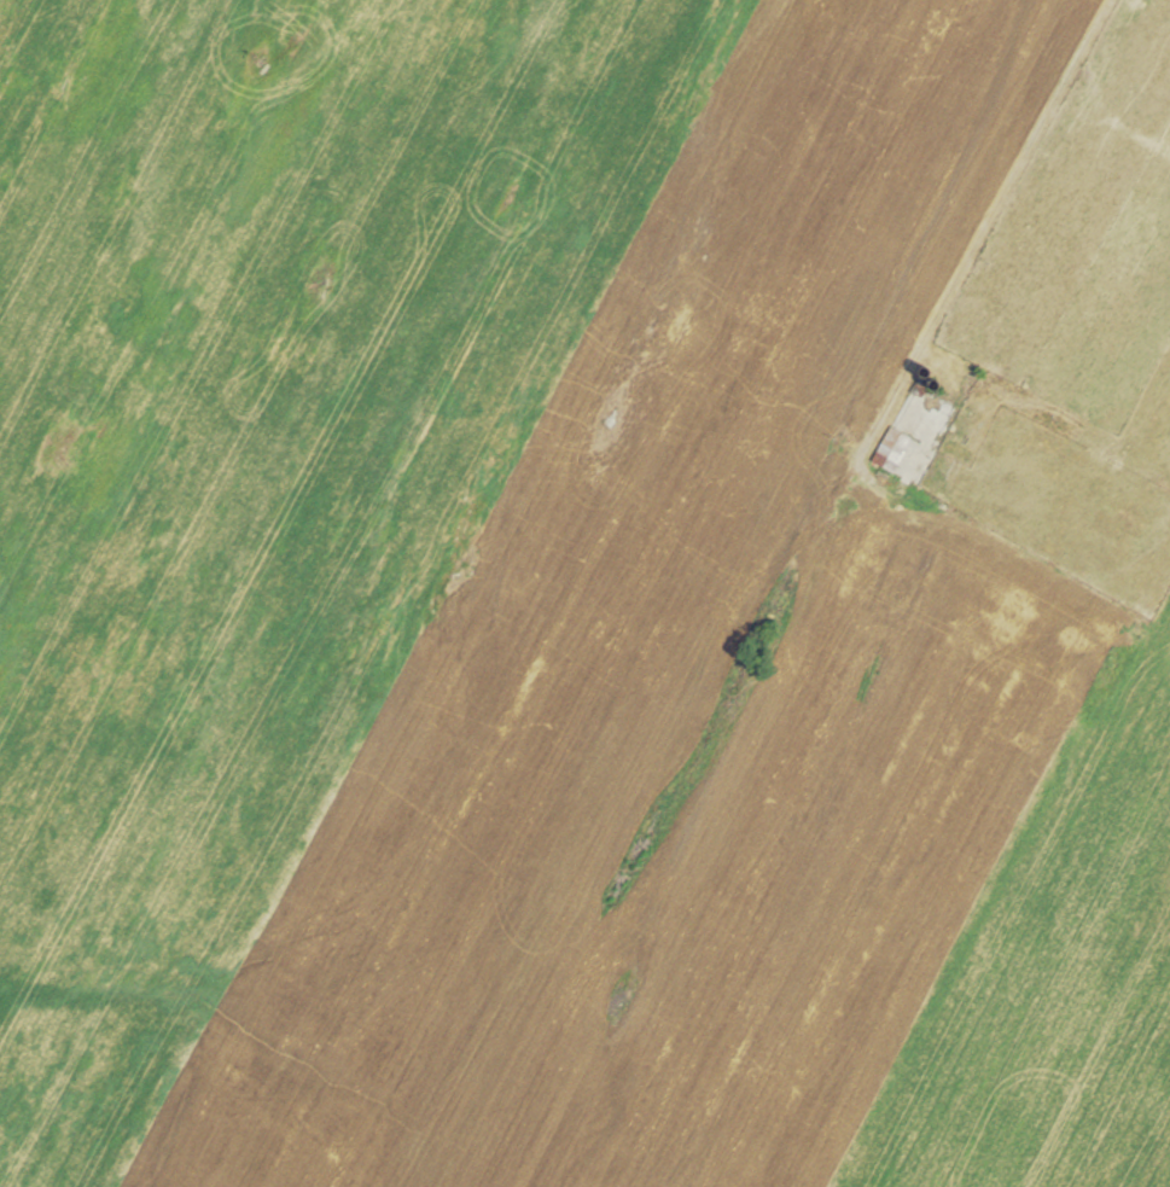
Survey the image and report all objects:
road: (961, 261)

